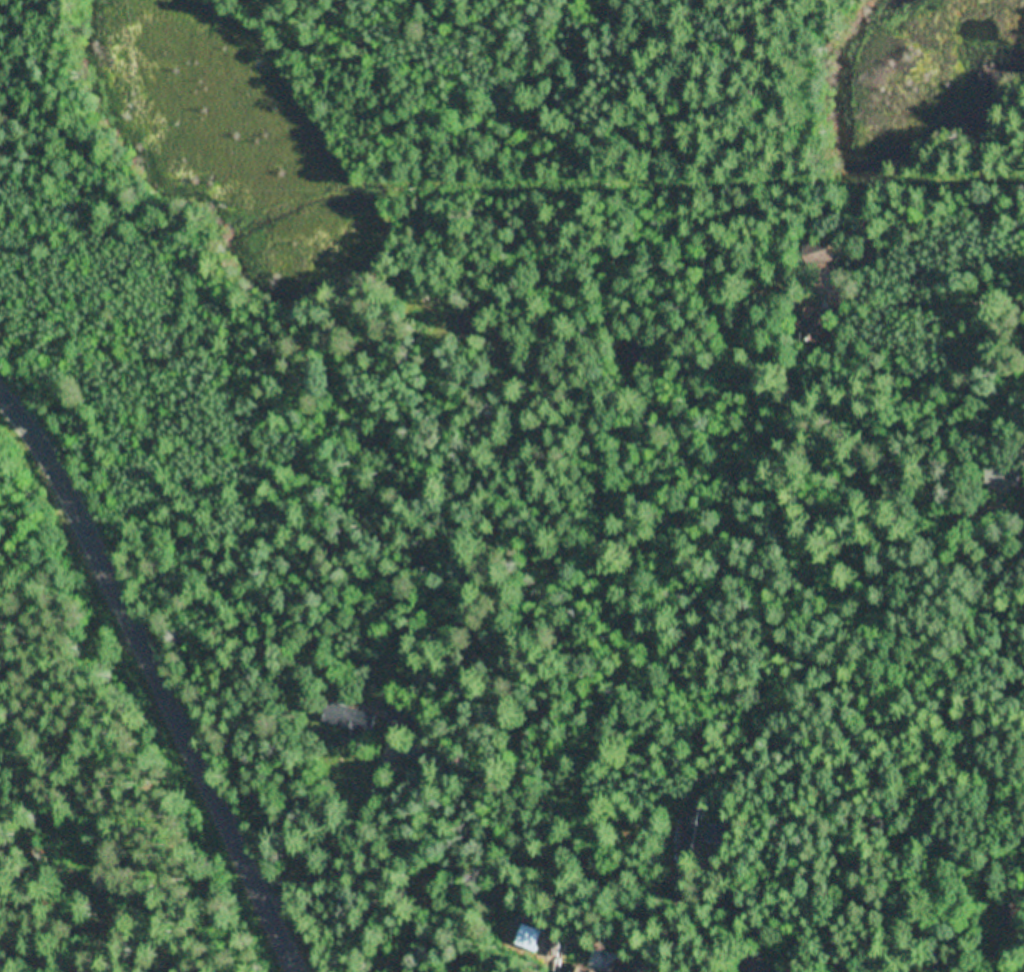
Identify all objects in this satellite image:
building: (821, 249)
road: (956, 290)
building: (813, 325)
building: (464, 327)
road: (179, 332)
building: (1000, 476)
road: (153, 680)
building: (348, 717)
building: (409, 750)
building: (1011, 917)
road: (253, 939)
building: (758, 963)

